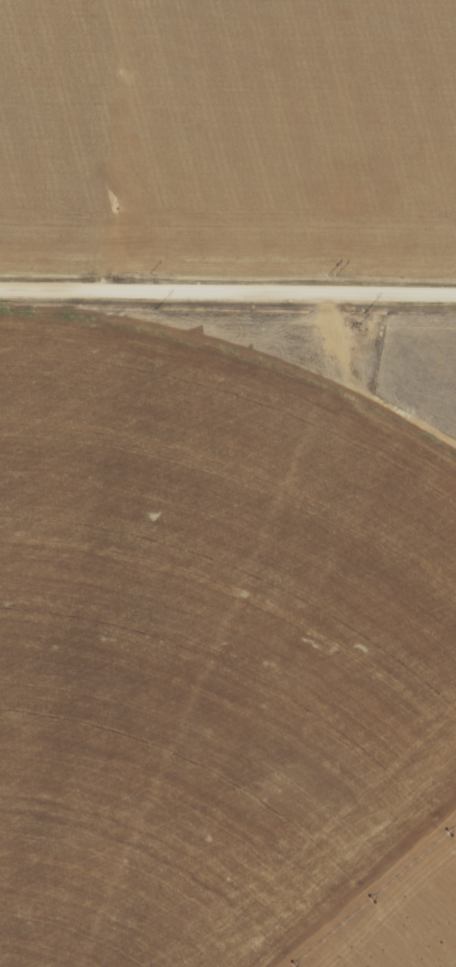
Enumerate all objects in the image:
road: (107, 147)
road: (228, 297)

